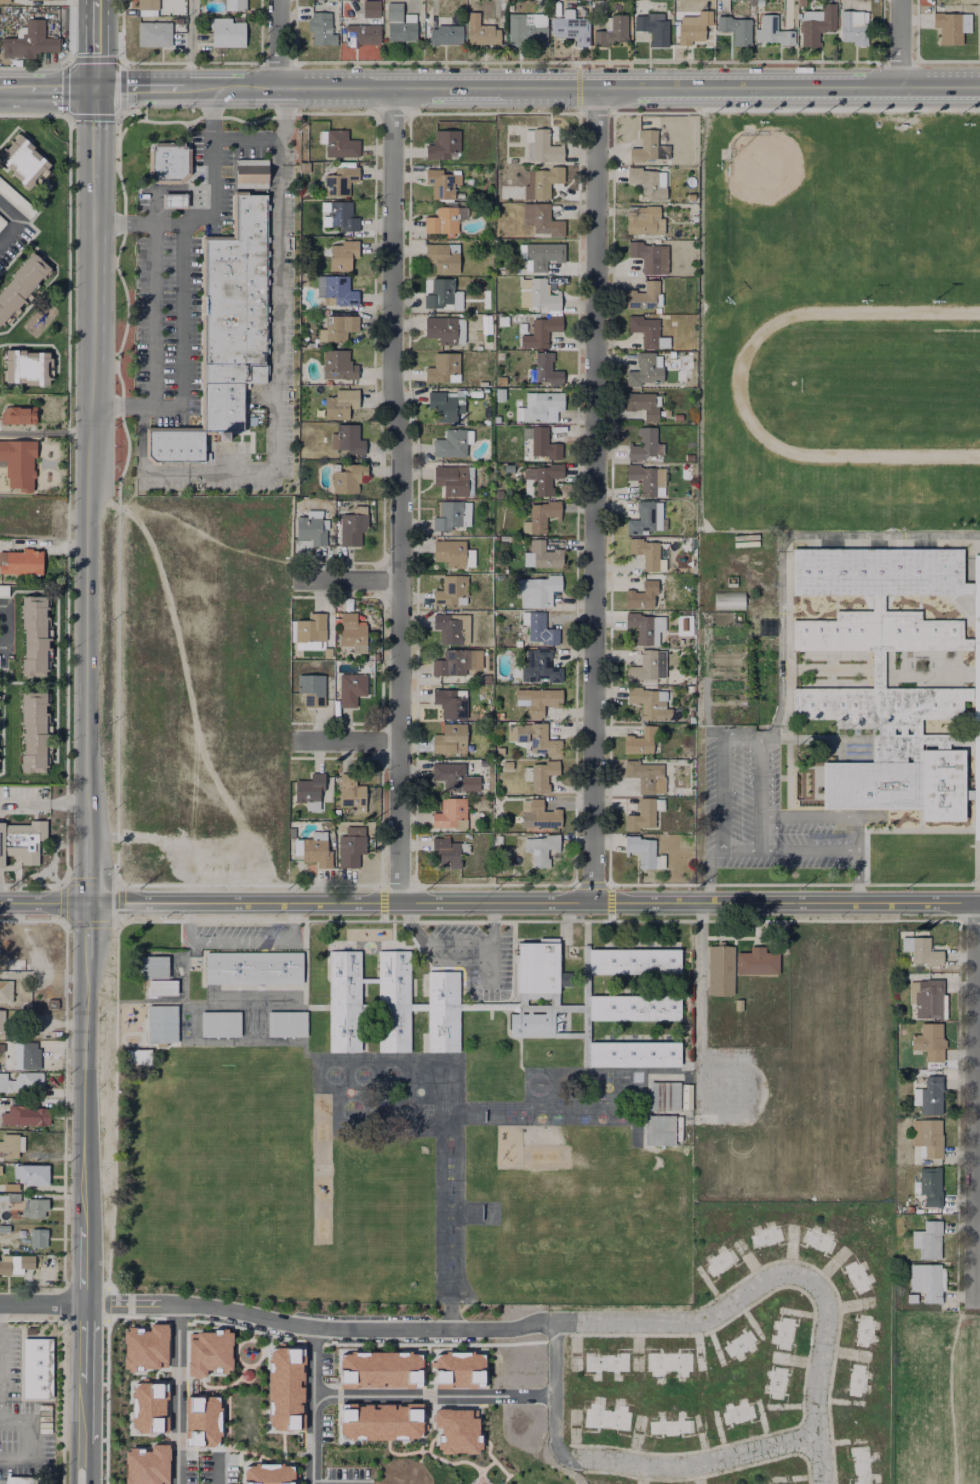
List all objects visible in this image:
building: (38, 0)
building: (4, 1)
building: (146, 4)
road: (99, 5)
building: (234, 5)
building: (370, 8)
building: (979, 8)
building: (394, 10)
building: (817, 23)
building: (571, 26)
building: (693, 26)
building: (853, 26)
building: (952, 26)
building: (320, 28)
building: (526, 28)
building: (651, 28)
building: (736, 28)
building: (612, 30)
building: (400, 31)
building: (225, 32)
building: (483, 32)
building: (772, 32)
building: (152, 33)
building: (360, 34)
building: (445, 34)
building: (29, 40)
building: (979, 42)
road: (280, 43)
road: (191, 44)
road: (902, 44)
road: (99, 49)
road: (140, 88)
road: (581, 88)
traffic signals: (99, 89)
road: (64, 90)
road: (15, 92)
road: (98, 135)
road: (271, 139)
building: (338, 143)
building: (442, 145)
building: (542, 147)
building: (648, 148)
building: (25, 160)
building: (167, 161)
building: (251, 173)
park: (775, 178)
building: (339, 181)
building: (543, 182)
building: (647, 182)
building: (443, 184)
building: (689, 194)
building: (16, 198)
building: (173, 200)
road: (210, 209)
building: (341, 214)
building: (441, 219)
building: (541, 220)
building: (644, 220)
building: (2, 222)
road: (17, 223)
building: (341, 254)
building: (540, 255)
building: (649, 256)
building: (441, 258)
building: (22, 284)
building: (337, 289)
building: (438, 292)
building: (539, 296)
building: (643, 296)
road: (152, 313)
building: (485, 323)
building: (338, 326)
building: (440, 329)
parking lot: (167, 331)
building: (226, 331)
building: (647, 331)
building: (540, 332)
road: (179, 353)
building: (670, 354)
building: (336, 363)
building: (29, 367)
building: (442, 367)
building: (646, 369)
building: (546, 370)
building: (501, 377)
park: (889, 383)
track: (739, 391)
building: (474, 393)
building: (341, 399)
building: (643, 404)
building: (446, 405)
road: (278, 407)
building: (541, 407)
building: (20, 415)
building: (678, 416)
building: (484, 422)
building: (346, 438)
building: (541, 442)
building: (450, 443)
building: (646, 445)
building: (689, 456)
building: (19, 462)
building: (508, 468)
building: (543, 477)
building: (349, 479)
building: (454, 479)
building: (647, 479)
road: (400, 495)
road: (594, 496)
road: (610, 501)
road: (94, 510)
building: (451, 514)
building: (540, 516)
building: (645, 518)
building: (351, 527)
building: (309, 530)
road: (780, 543)
building: (452, 553)
building: (645, 553)
building: (542, 557)
building: (21, 562)
building: (876, 572)
road: (348, 582)
building: (538, 588)
building: (967, 589)
building: (6, 590)
building: (451, 590)
building: (641, 596)
building: (728, 600)
building: (976, 603)
building: (341, 604)
building: (684, 622)
road: (3, 627)
building: (644, 627)
building: (766, 627)
building: (309, 628)
building: (447, 628)
building: (538, 629)
building: (350, 630)
building: (832, 632)
building: (920, 632)
building: (36, 636)
building: (967, 644)
building: (326, 653)
building: (451, 662)
building: (539, 666)
building: (643, 667)
road: (827, 668)
road: (829, 669)
building: (976, 669)
road: (802, 670)
road: (789, 671)
building: (877, 677)
building: (310, 689)
building: (350, 689)
road: (189, 694)
building: (966, 694)
building: (538, 700)
building: (450, 703)
building: (647, 703)
building: (919, 705)
building: (833, 706)
building: (36, 732)
building: (976, 733)
building: (537, 739)
building: (450, 740)
road: (348, 742)
building: (642, 742)
building: (916, 743)
road: (760, 762)
building: (506, 765)
road: (817, 769)
building: (455, 775)
building: (642, 775)
building: (539, 776)
road: (786, 778)
road: (790, 779)
building: (899, 785)
building: (308, 788)
building: (350, 793)
building: (968, 794)
road: (45, 802)
parking lot: (768, 810)
building: (976, 810)
building: (450, 814)
building: (538, 815)
building: (641, 817)
road: (896, 831)
road: (760, 834)
building: (23, 842)
building: (351, 848)
building: (312, 850)
building: (541, 850)
road: (790, 850)
building: (448, 852)
building: (644, 853)
road: (977, 858)
road: (91, 872)
road: (382, 901)
road: (610, 901)
road: (45, 904)
road: (535, 904)
road: (226, 920)
road: (90, 933)
parking lot: (242, 937)
road: (241, 940)
road: (456, 941)
building: (921, 946)
parking lot: (469, 954)
building: (633, 961)
road: (456, 962)
building: (756, 962)
building: (152, 967)
building: (537, 967)
building: (252, 969)
road: (491, 970)
building: (719, 970)
building: (368, 980)
building: (162, 987)
building: (6, 991)
building: (926, 994)
road: (700, 1000)
building: (344, 1001)
building: (393, 1001)
building: (553, 1004)
building: (737, 1005)
building: (417, 1006)
building: (489, 1006)
building: (585, 1006)
building: (368, 1007)
building: (633, 1008)
building: (442, 1012)
building: (2, 1022)
building: (161, 1024)
building: (220, 1024)
building: (286, 1024)
building: (531, 1025)
building: (567, 1035)
building: (927, 1037)
building: (633, 1054)
building: (27, 1057)
building: (137, 1058)
road: (978, 1068)
building: (30, 1082)
building: (4, 1083)
building: (925, 1090)
building: (663, 1096)
road: (975, 1102)
building: (26, 1116)
building: (659, 1130)
building: (924, 1133)
park: (448, 1141)
building: (12, 1147)
building: (1, 1171)
park: (448, 1172)
building: (33, 1176)
building: (926, 1182)
building: (15, 1198)
building: (36, 1210)
park: (448, 1212)
road: (83, 1222)
building: (5, 1229)
road: (977, 1230)
building: (762, 1234)
building: (924, 1235)
building: (815, 1238)
building: (39, 1240)
park: (447, 1251)
building: (718, 1258)
building: (27, 1263)
building: (5, 1266)
building: (853, 1274)
building: (924, 1277)
road: (759, 1290)
road: (40, 1303)
road: (311, 1326)
building: (781, 1327)
building: (860, 1328)
building: (739, 1340)
building: (143, 1347)
building: (207, 1352)
building: (604, 1358)
building: (664, 1359)
building: (35, 1364)
building: (459, 1368)
building: (378, 1369)
building: (774, 1376)
building: (852, 1376)
building: (283, 1389)
road: (434, 1394)
road: (178, 1396)
road: (312, 1405)
building: (147, 1407)
building: (734, 1410)
building: (600, 1414)
building: (200, 1419)
building: (378, 1421)
building: (665, 1423)
building: (455, 1430)
road: (28, 1439)
road: (820, 1462)
building: (857, 1462)
road: (623, 1464)
building: (145, 1465)
road: (217, 1467)
building: (267, 1474)
building: (779, 1478)
building: (23, 1480)

